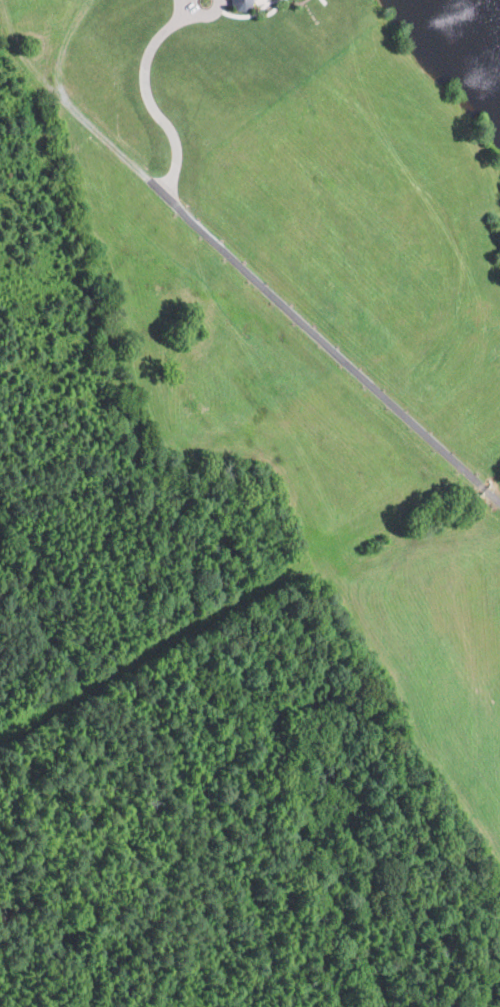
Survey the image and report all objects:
road: (247, 273)

